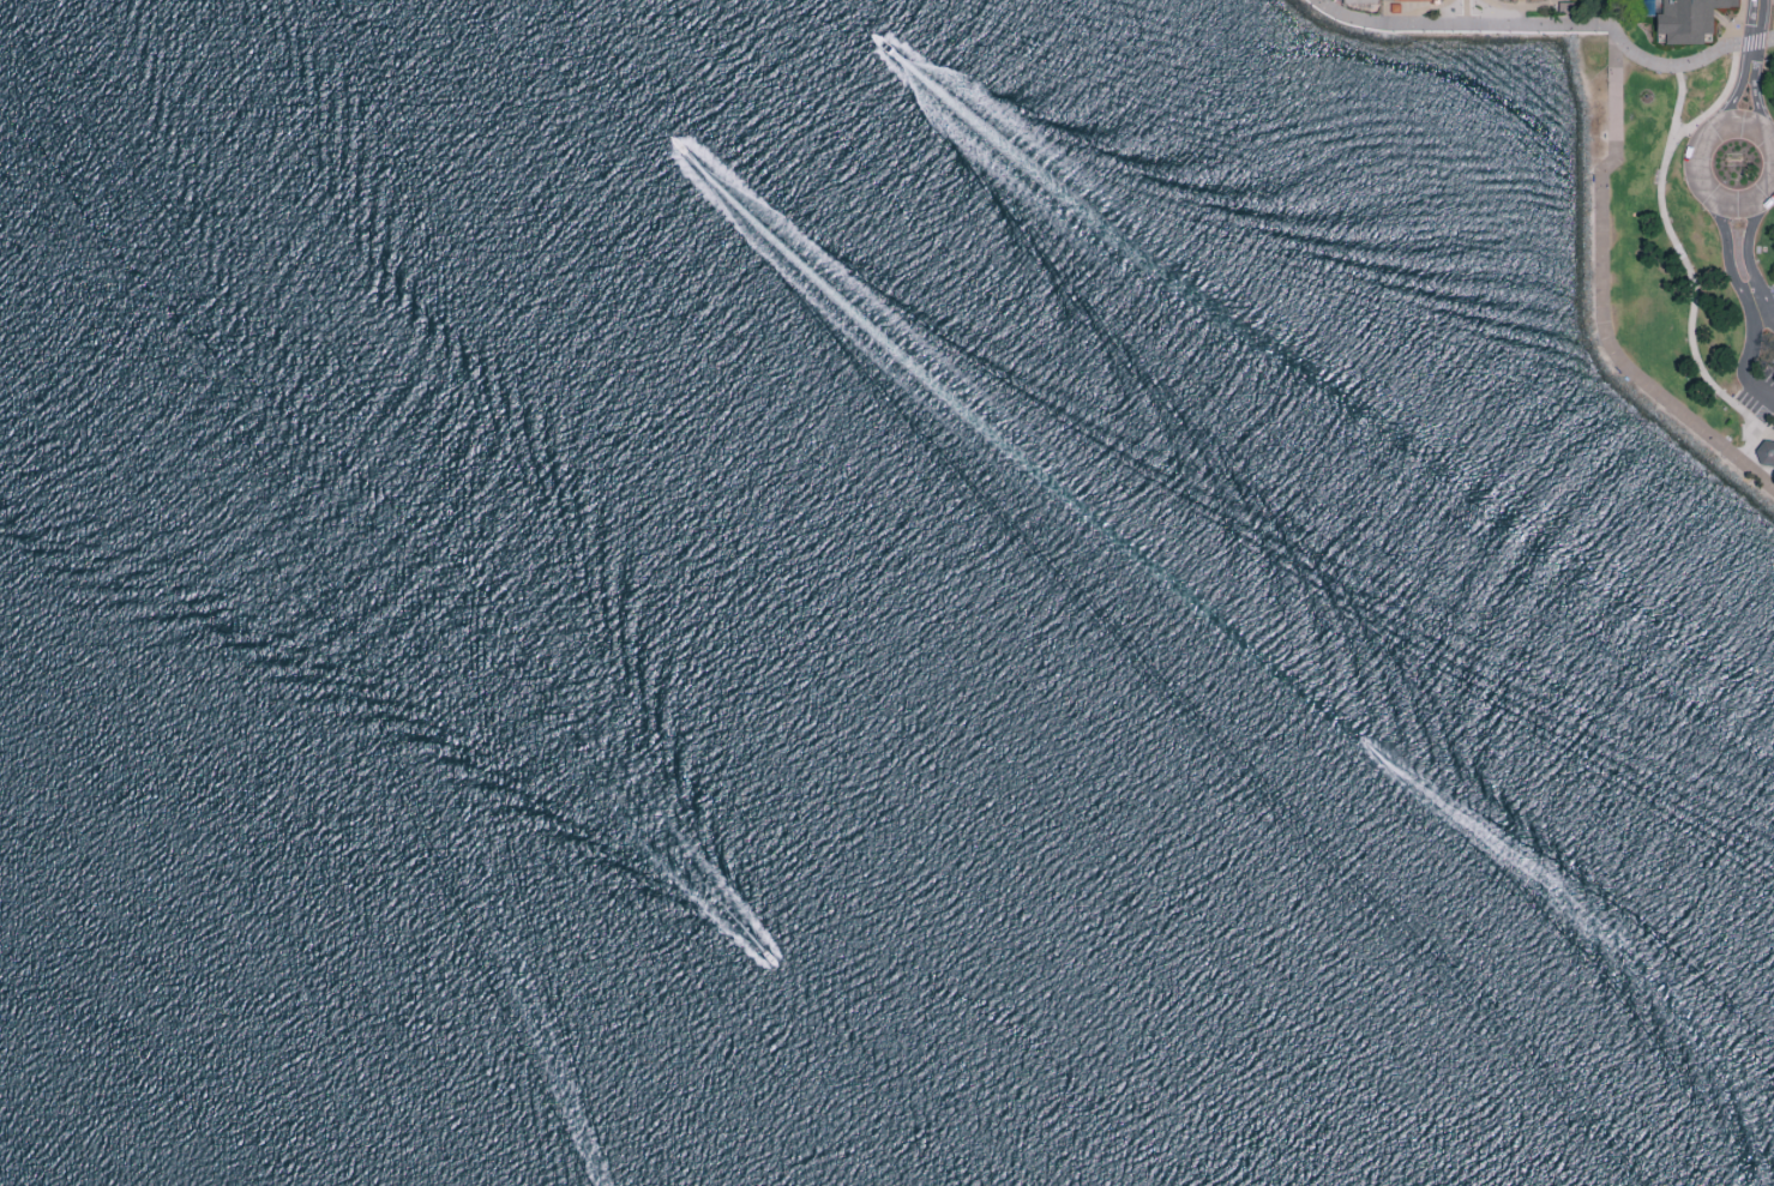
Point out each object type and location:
building: (1415, 1)
building: (1361, 2)
road: (1772, 5)
road: (1523, 8)
road: (1465, 13)
road: (1407, 17)
road: (1523, 18)
building: (1688, 20)
road: (1738, 24)
road: (1552, 28)
road: (1754, 34)
road: (1732, 102)
road: (1716, 104)
road: (1760, 113)
road: (1731, 205)
road: (1746, 240)
park: (1688, 246)
road: (1688, 269)
road: (1736, 287)
parking lot: (1772, 297)
road: (1600, 301)
road: (1766, 309)
road: (1762, 395)
parking lot: (1760, 398)
road: (1751, 448)
building: (1767, 456)

